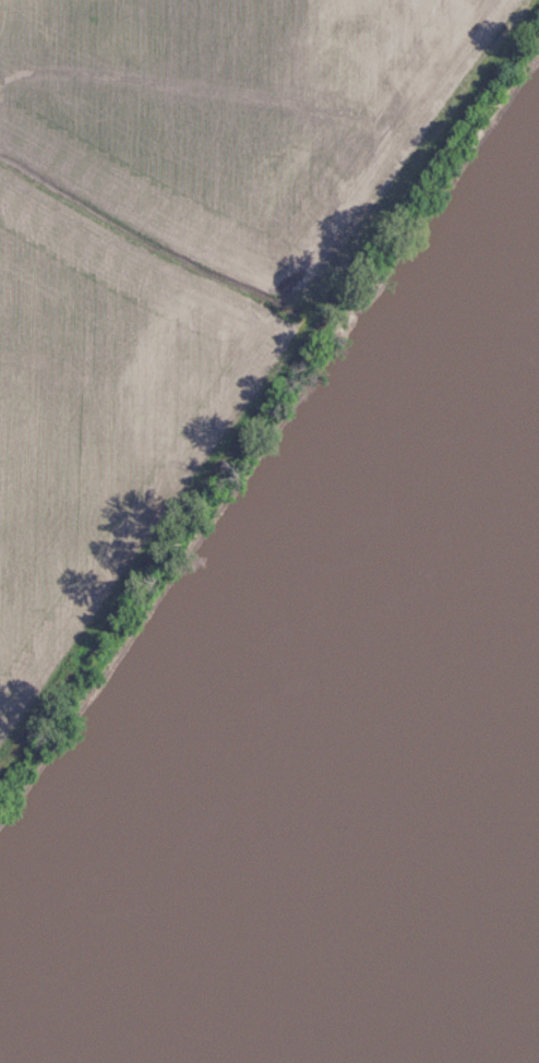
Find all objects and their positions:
river: (432, 962)

